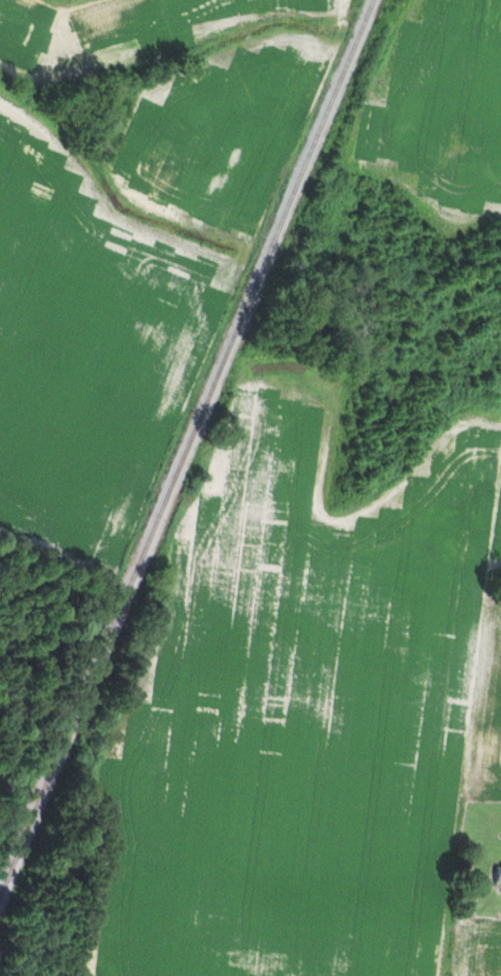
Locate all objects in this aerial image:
road: (498, 3)
railway: (181, 444)
building: (497, 876)

